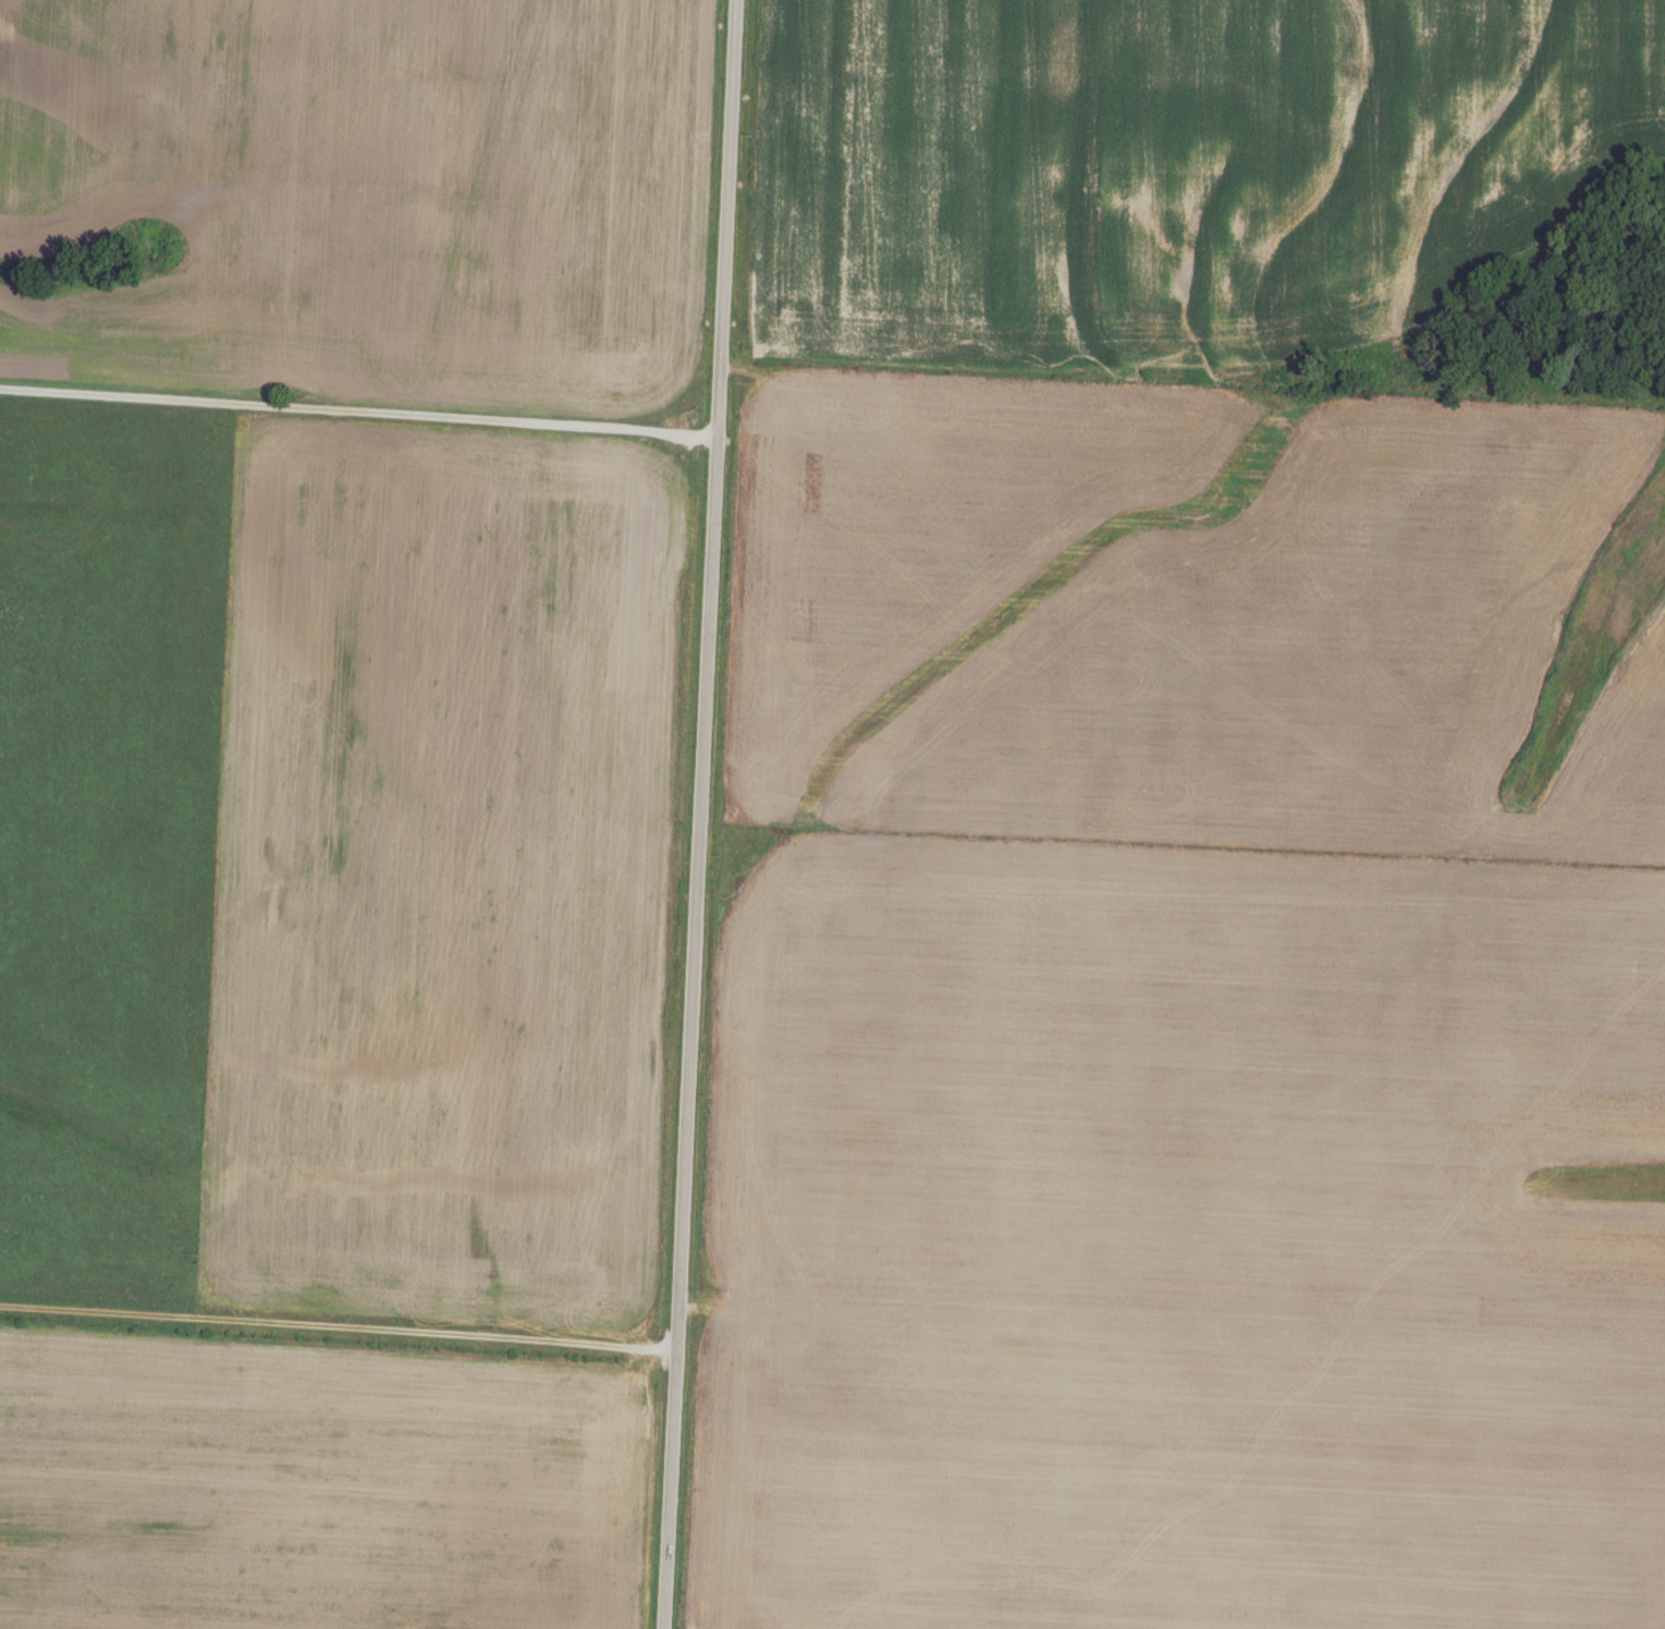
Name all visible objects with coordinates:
road: (358, 412)
road: (699, 814)
road: (338, 1328)

